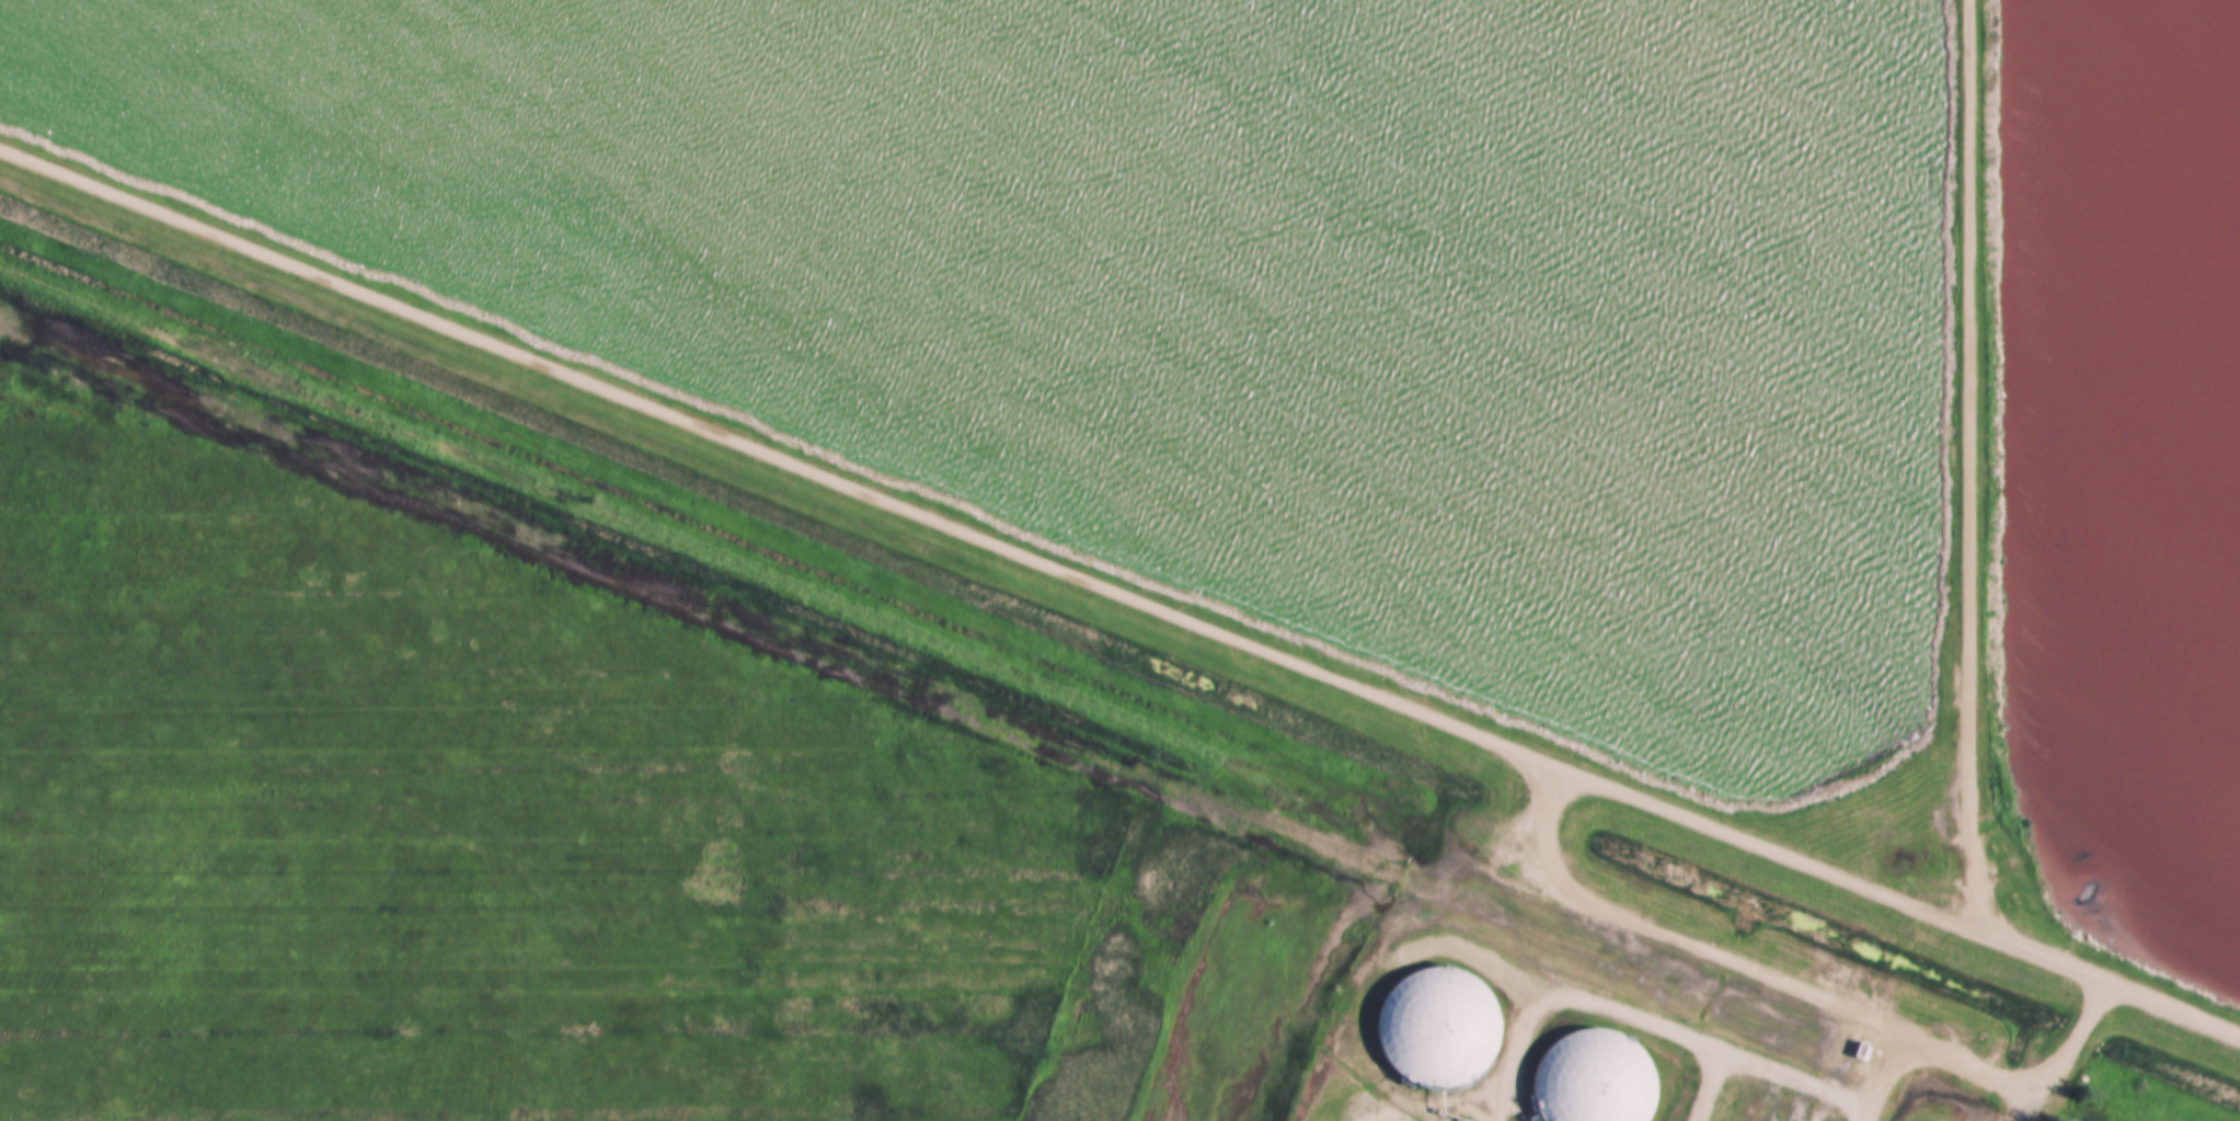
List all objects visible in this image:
road: (1974, 466)
road: (1119, 595)
road: (1551, 845)
road: (1802, 990)
wastewater plant: (1519, 1003)
building: (1428, 1028)
road: (2069, 1049)
road: (1887, 1077)
building: (1589, 1078)

